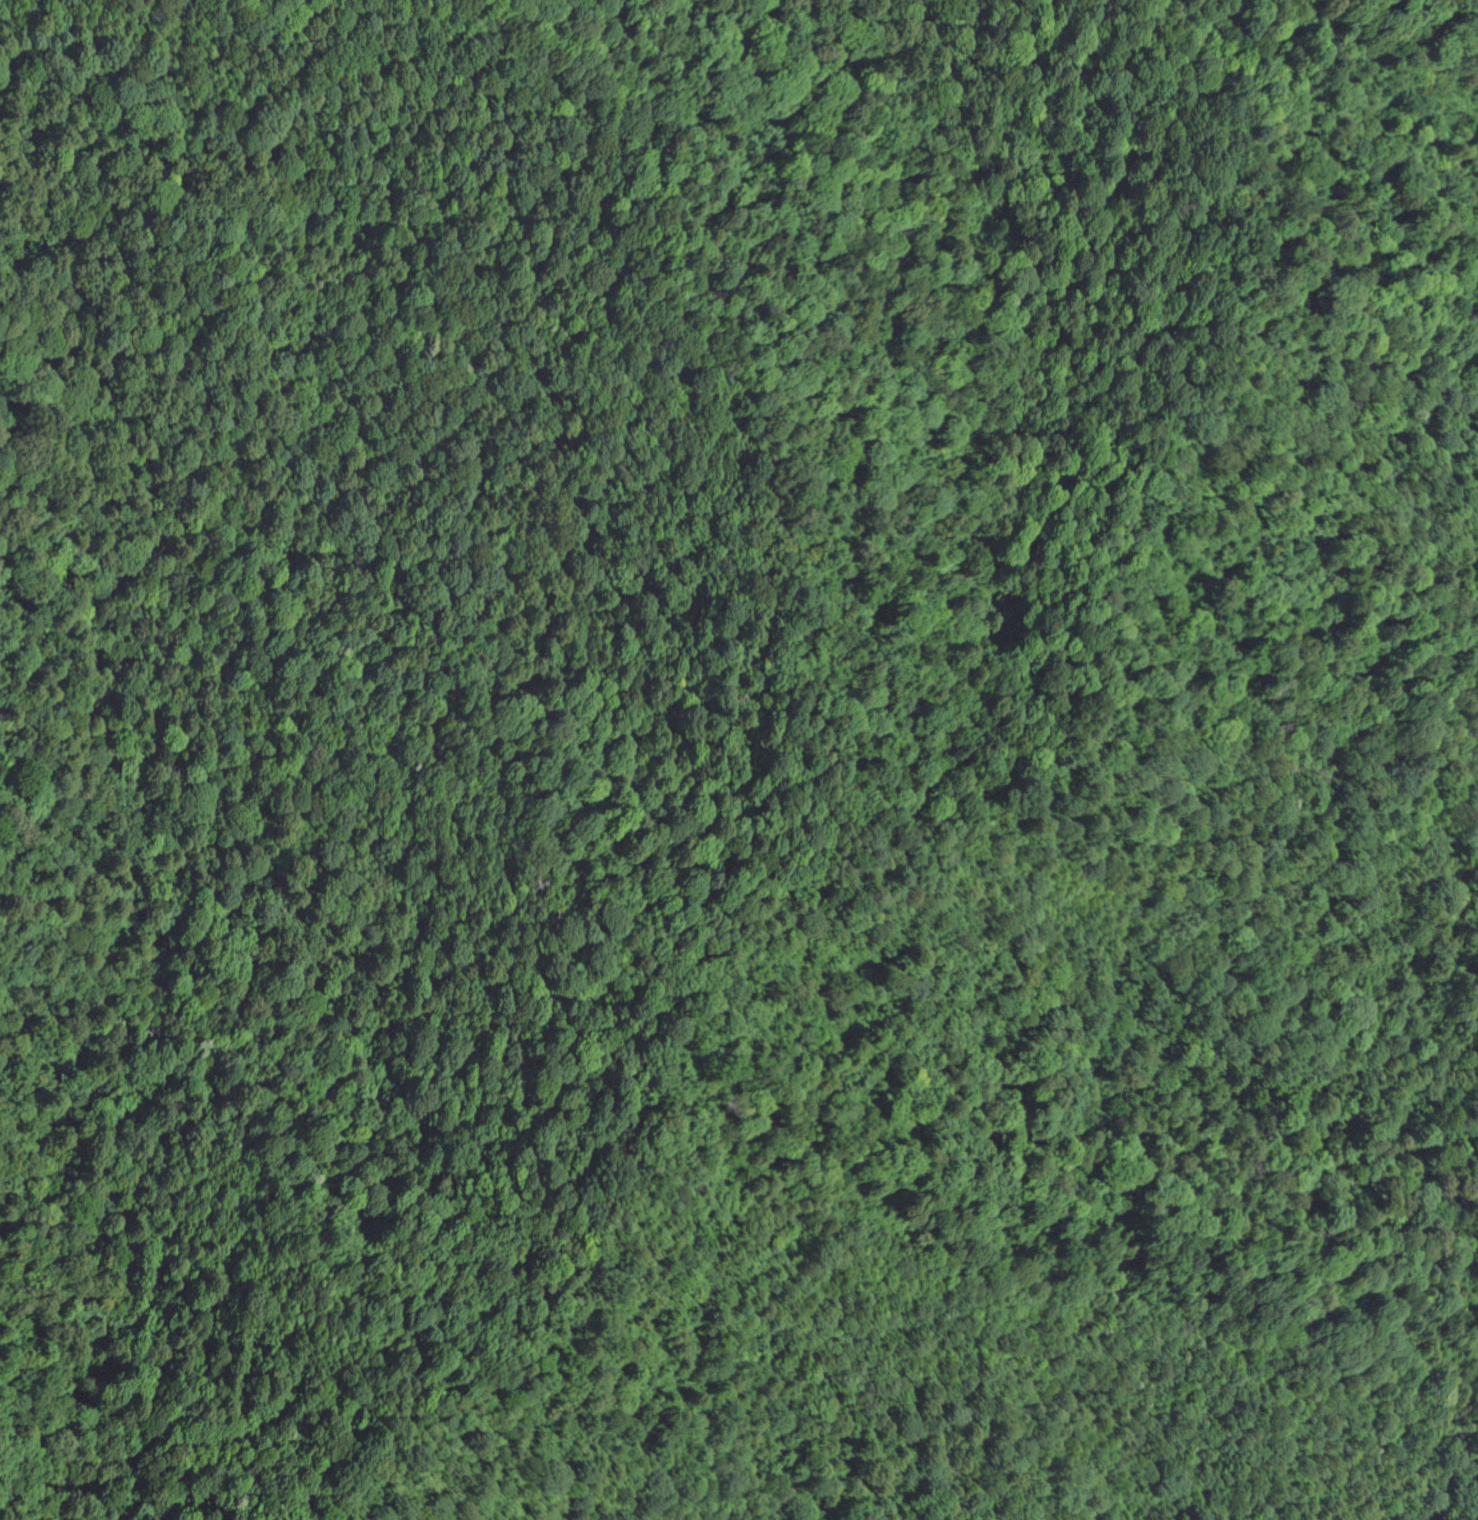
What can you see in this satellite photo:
road: (1470, 604)

